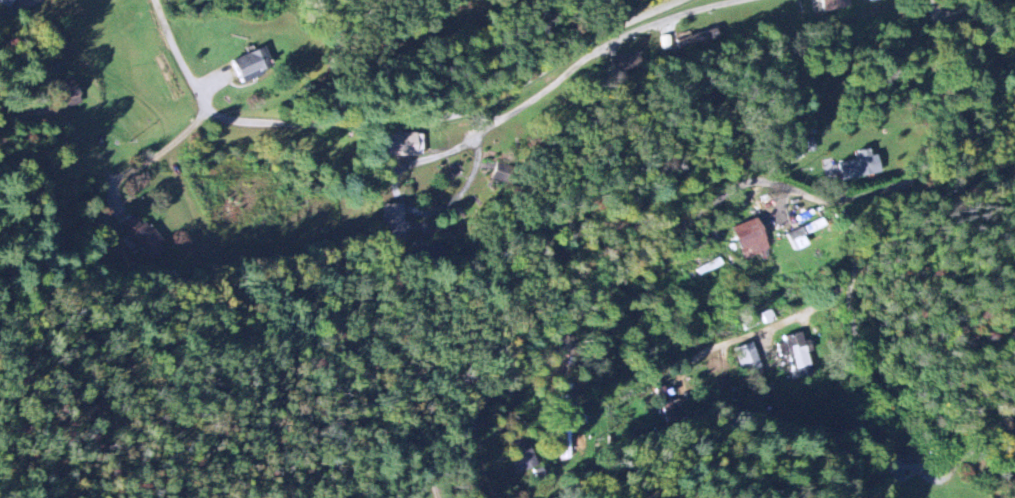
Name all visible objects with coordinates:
building: (869, 0)
building: (7, 2)
building: (835, 4)
road: (17, 6)
building: (691, 40)
building: (665, 43)
road: (598, 50)
building: (624, 63)
building: (253, 64)
road: (184, 66)
road: (383, 121)
building: (403, 145)
building: (860, 166)
road: (407, 206)
road: (704, 207)
building: (391, 216)
building: (138, 232)
building: (802, 234)
building: (749, 239)
road: (859, 277)
building: (796, 353)
building: (751, 368)
road: (567, 413)
road: (483, 455)

